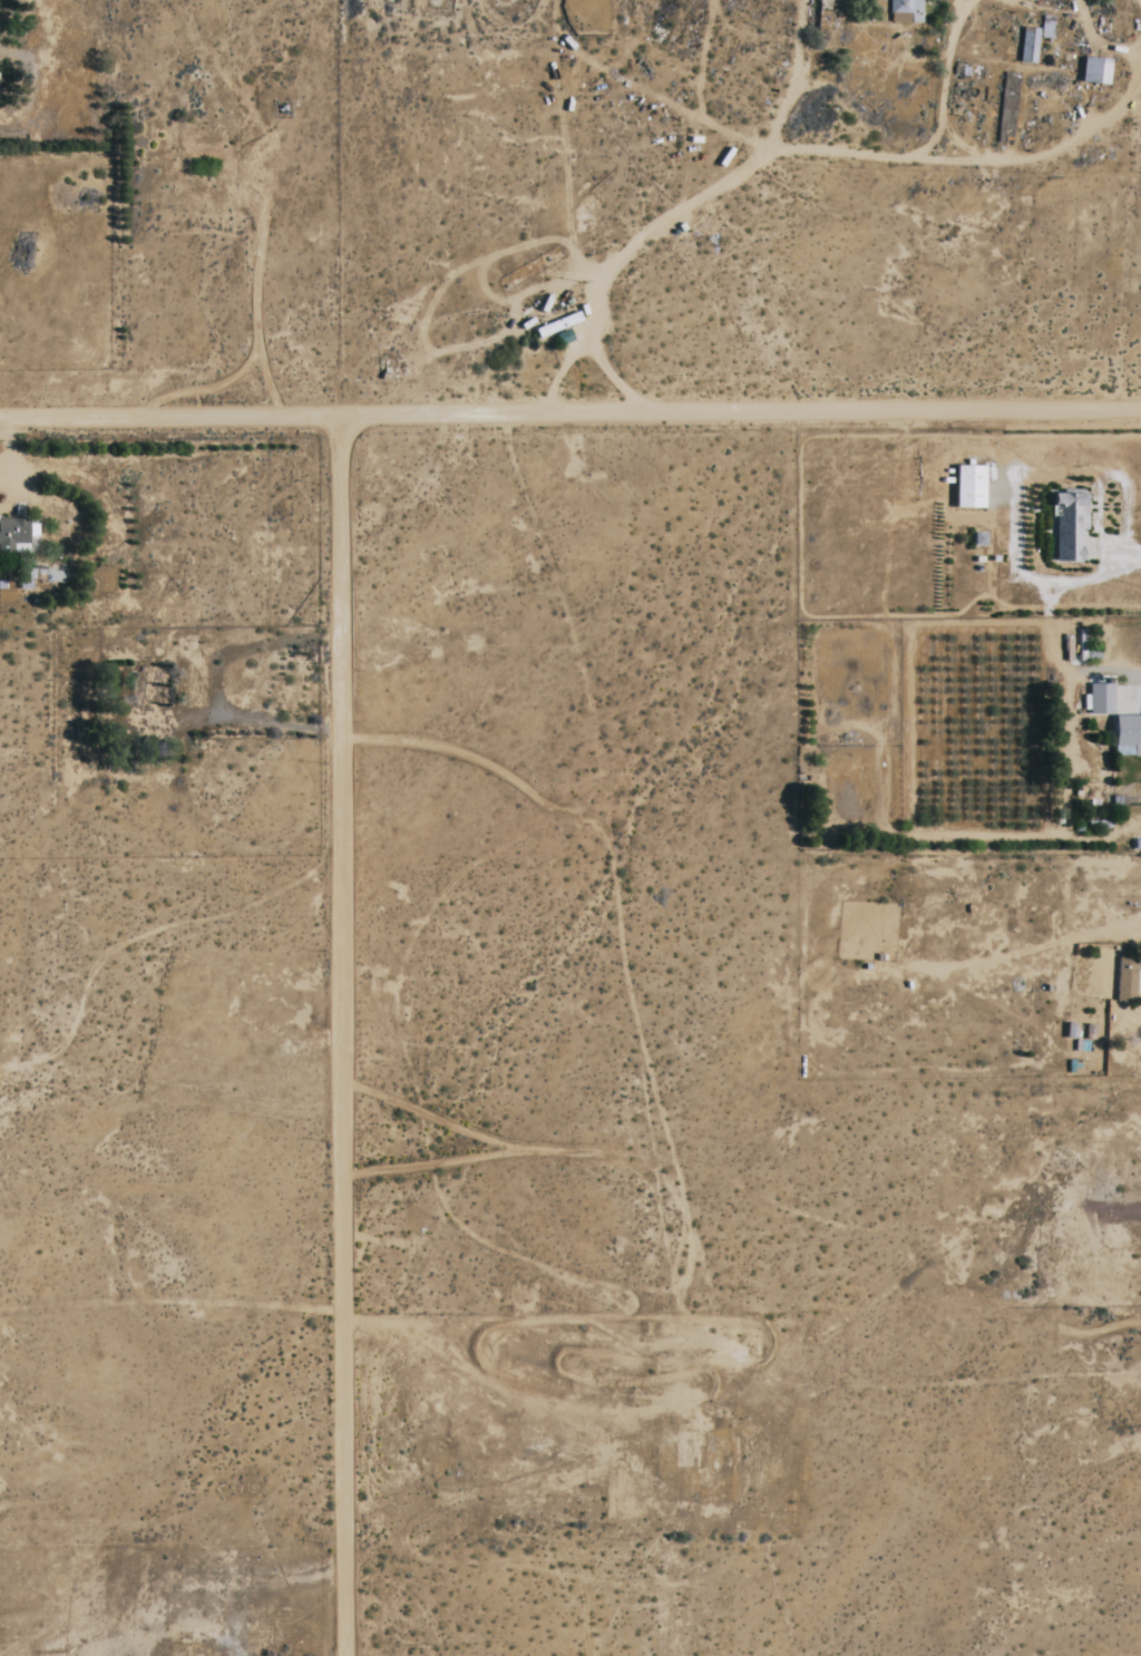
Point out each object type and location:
building: (905, 11)
building: (1046, 28)
building: (1033, 46)
building: (1095, 72)
road: (569, 410)
building: (969, 486)
building: (1069, 525)
building: (20, 548)
building: (39, 576)
building: (1101, 699)
building: (1129, 731)
building: (1123, 750)
building: (1125, 985)
road: (345, 1034)

